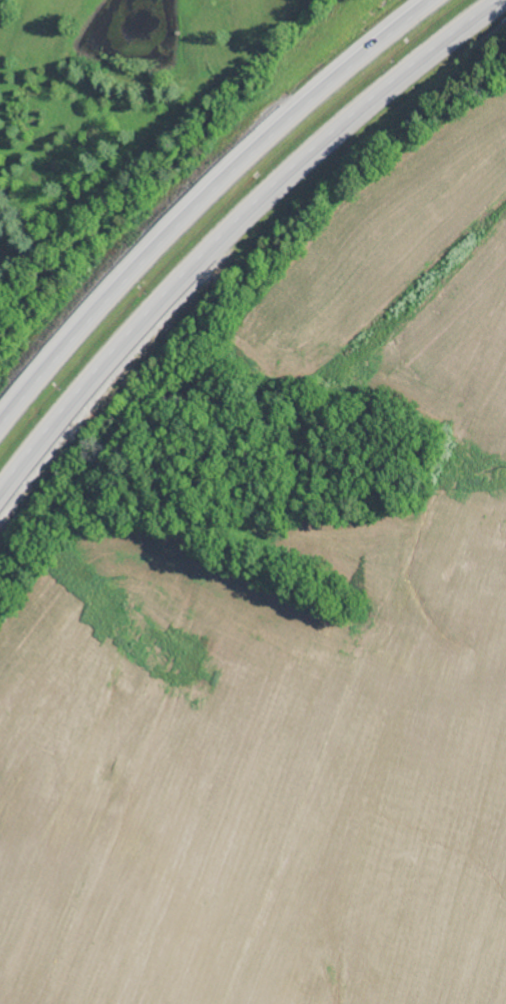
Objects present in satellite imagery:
road: (199, 197)
road: (232, 230)

